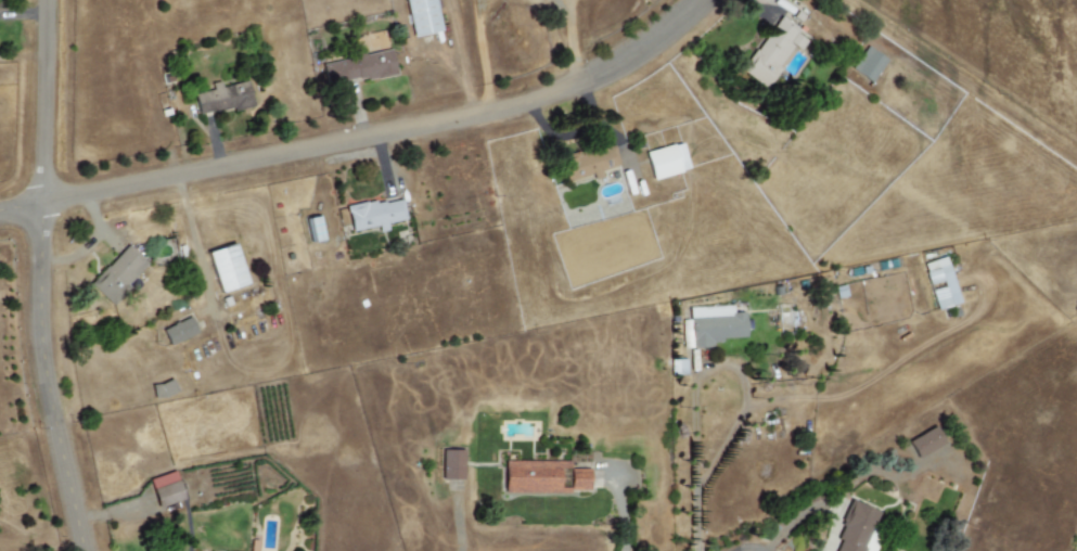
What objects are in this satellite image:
building: (422, 16)
building: (375, 41)
road: (570, 42)
building: (772, 52)
building: (868, 64)
building: (358, 68)
building: (222, 98)
road: (367, 136)
building: (666, 161)
building: (589, 163)
building: (375, 215)
building: (312, 229)
building: (226, 268)
building: (118, 274)
road: (41, 278)
building: (940, 283)
building: (715, 324)
building: (179, 331)
building: (677, 367)
building: (924, 443)
building: (451, 464)
road: (694, 465)
building: (533, 475)
building: (578, 479)
building: (165, 489)
building: (857, 529)

